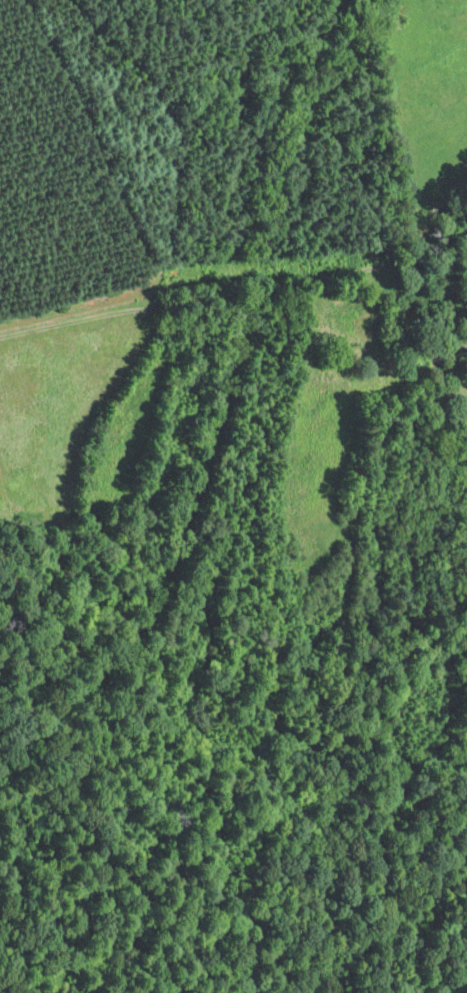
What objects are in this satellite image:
road: (254, 310)

